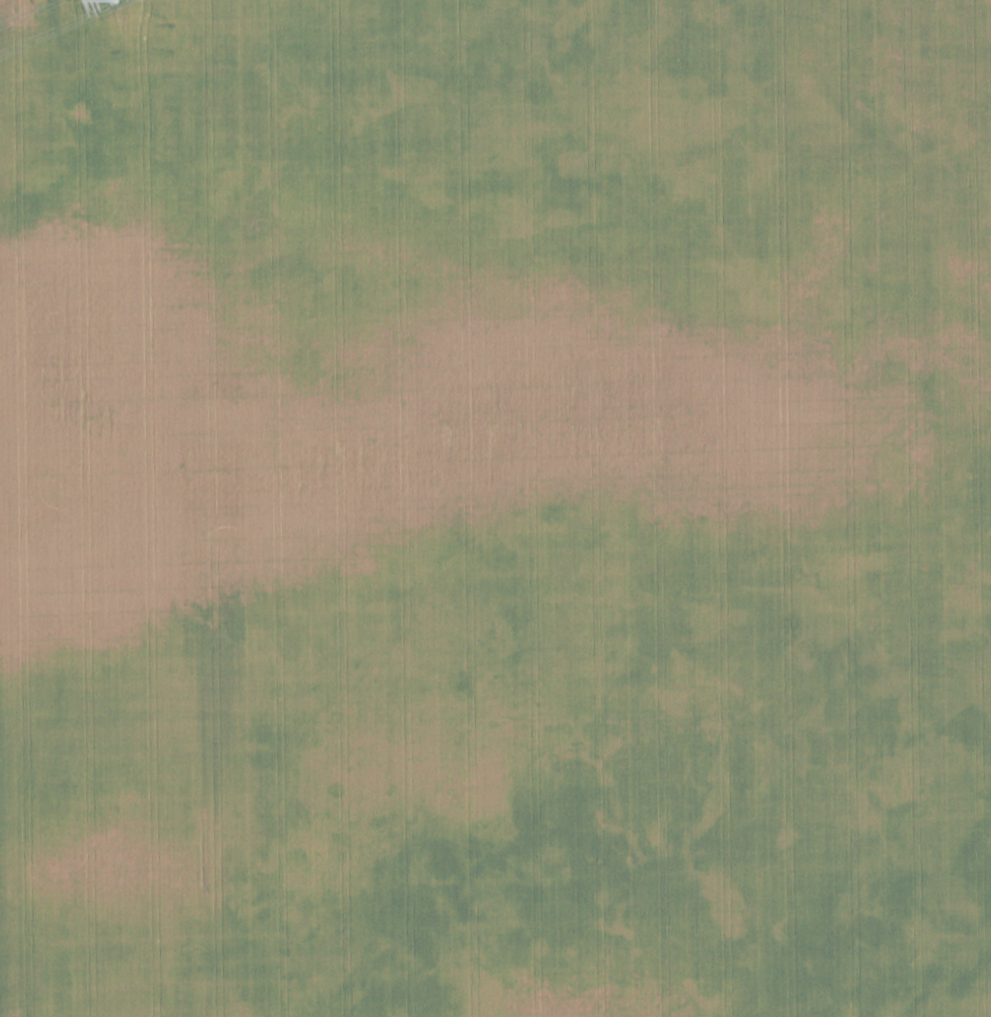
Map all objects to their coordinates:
power tower: (118, 0)

